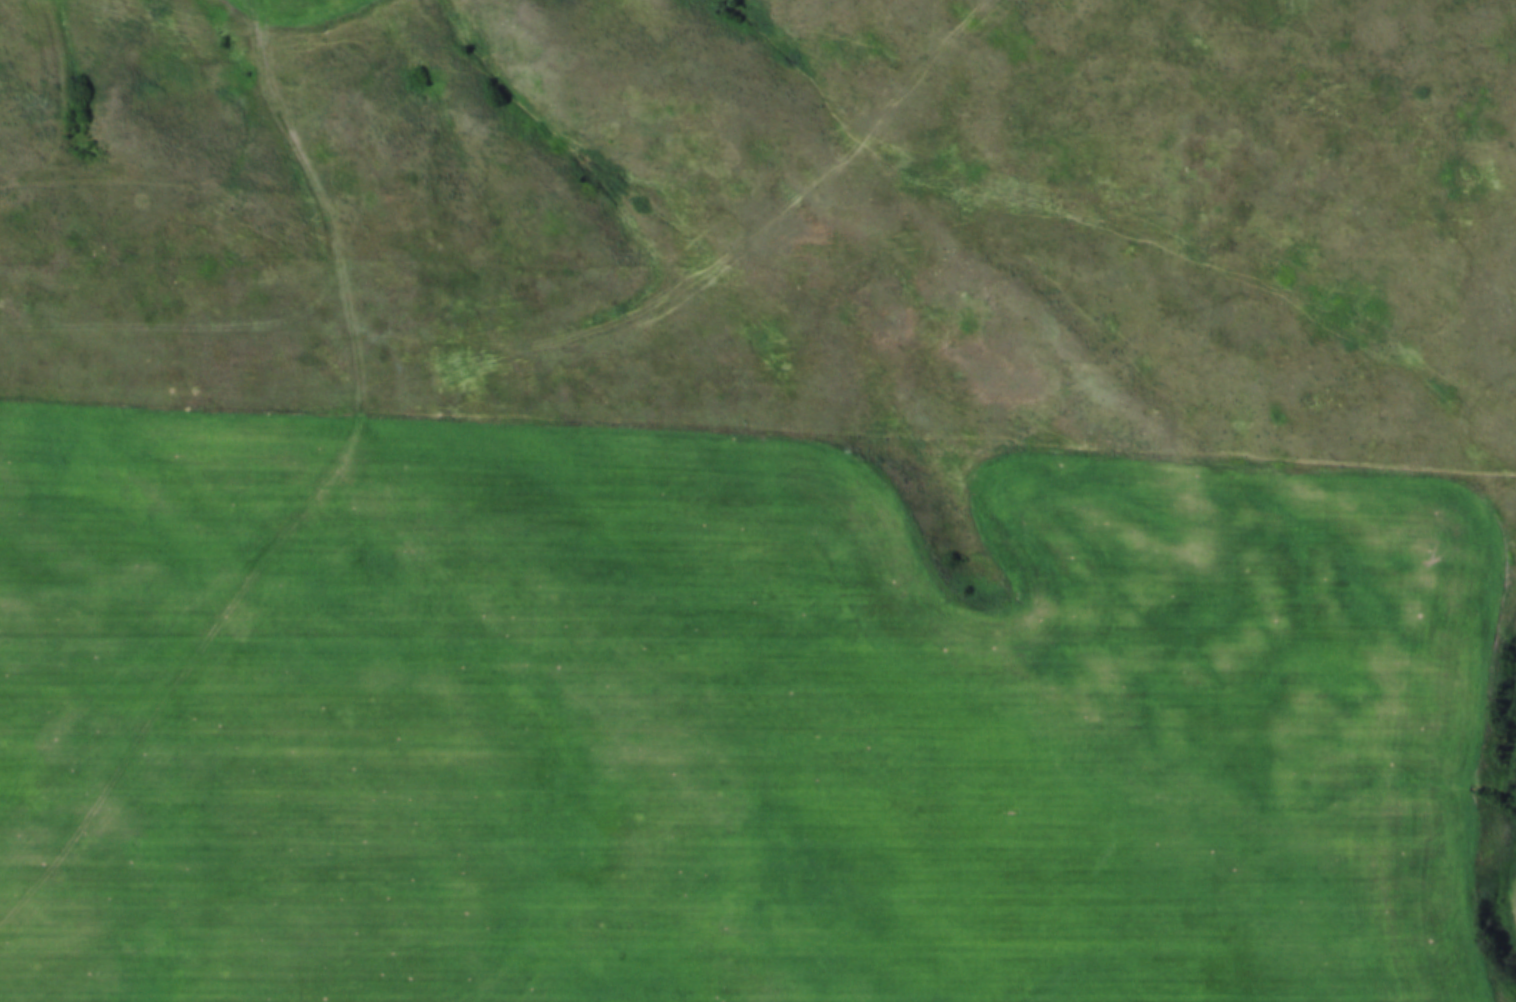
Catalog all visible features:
road: (676, 301)
road: (287, 324)

